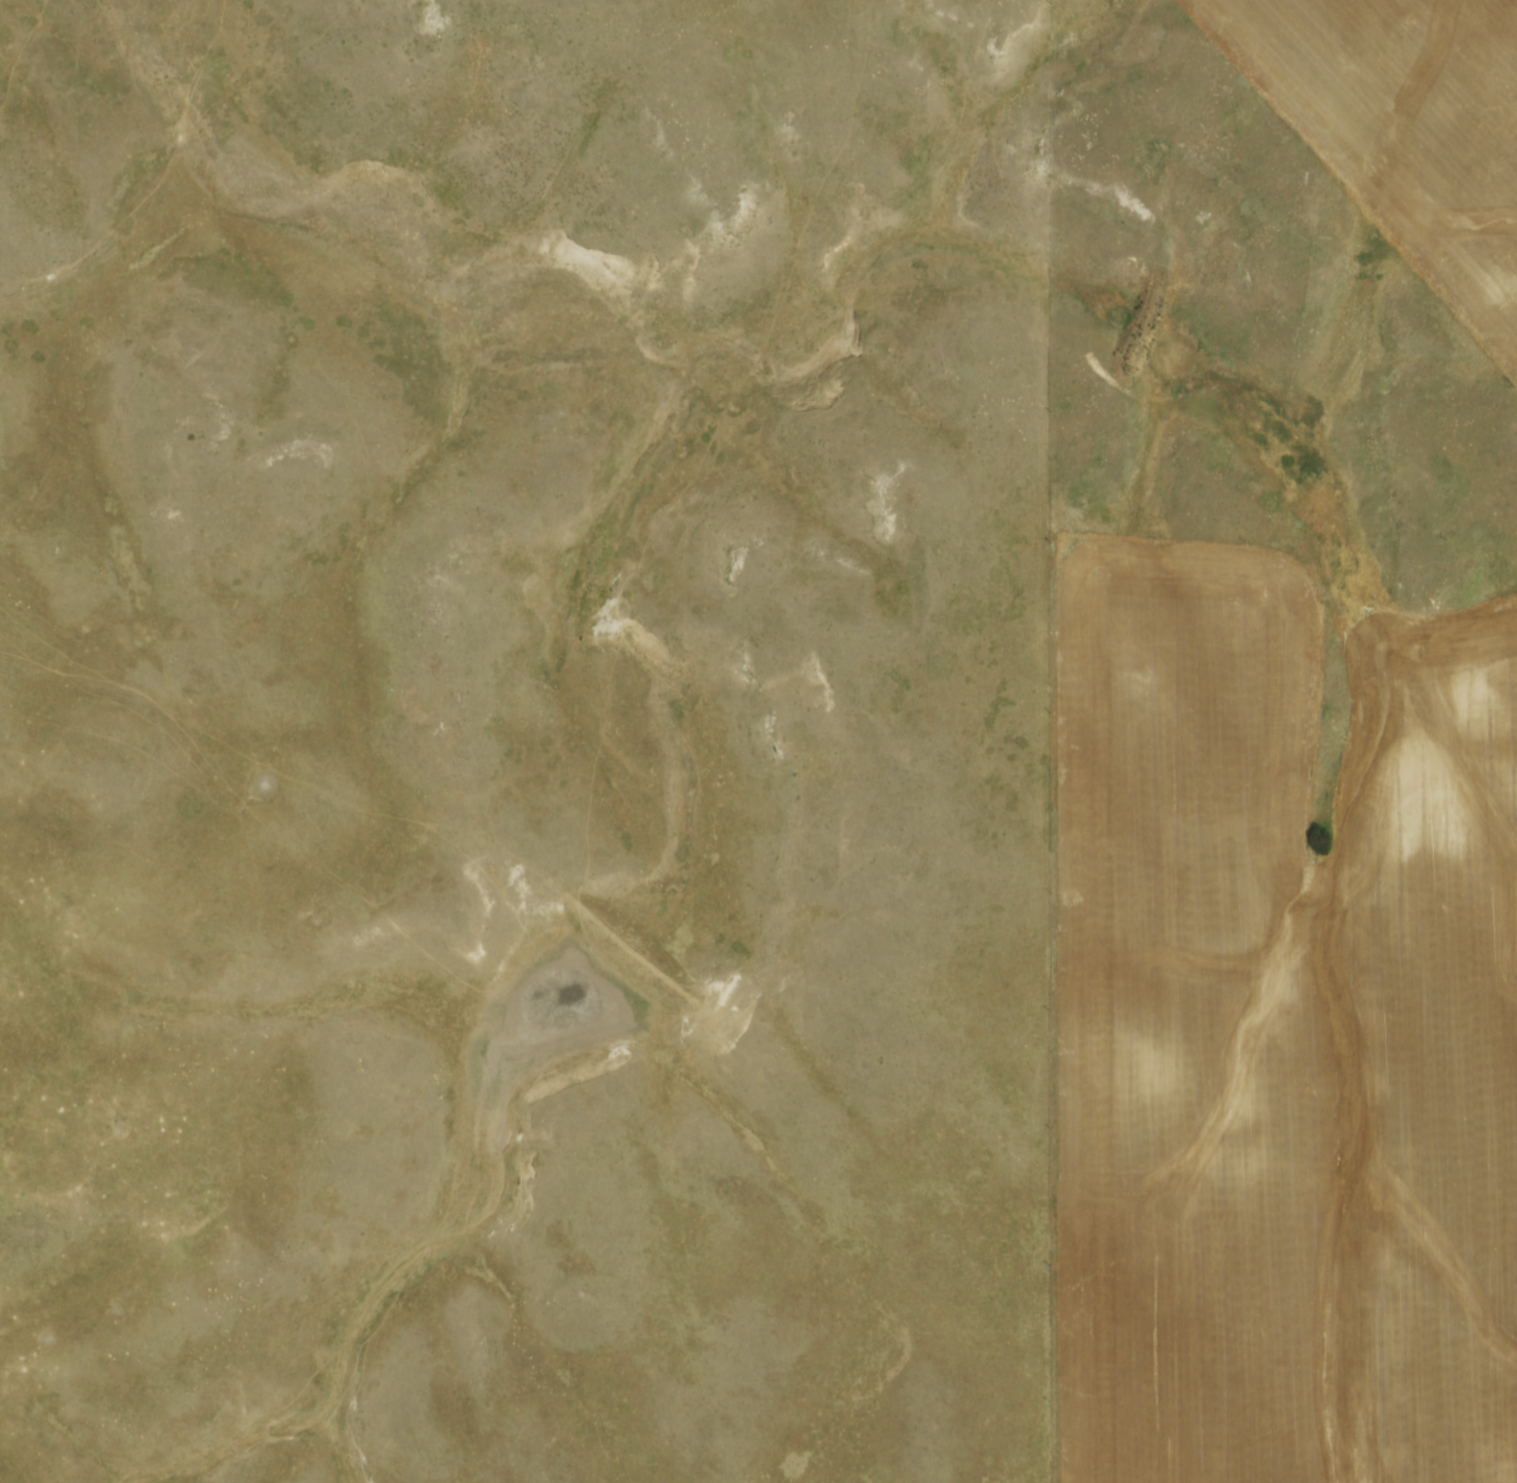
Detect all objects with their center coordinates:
crop: (1398, 128)
crop: (1279, 1036)

